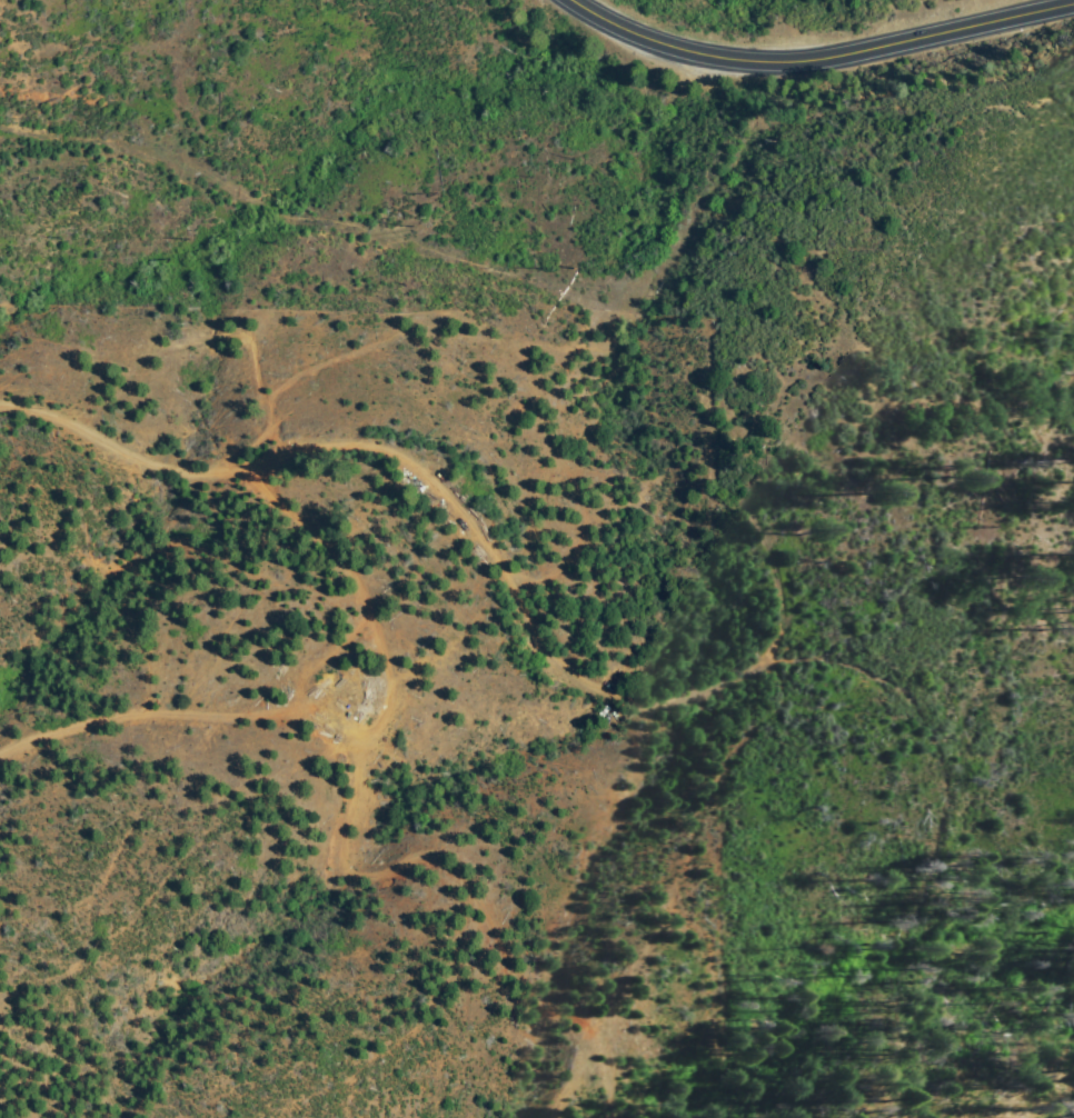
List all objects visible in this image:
road: (817, 74)
road: (107, 466)
road: (500, 577)
road: (341, 726)

